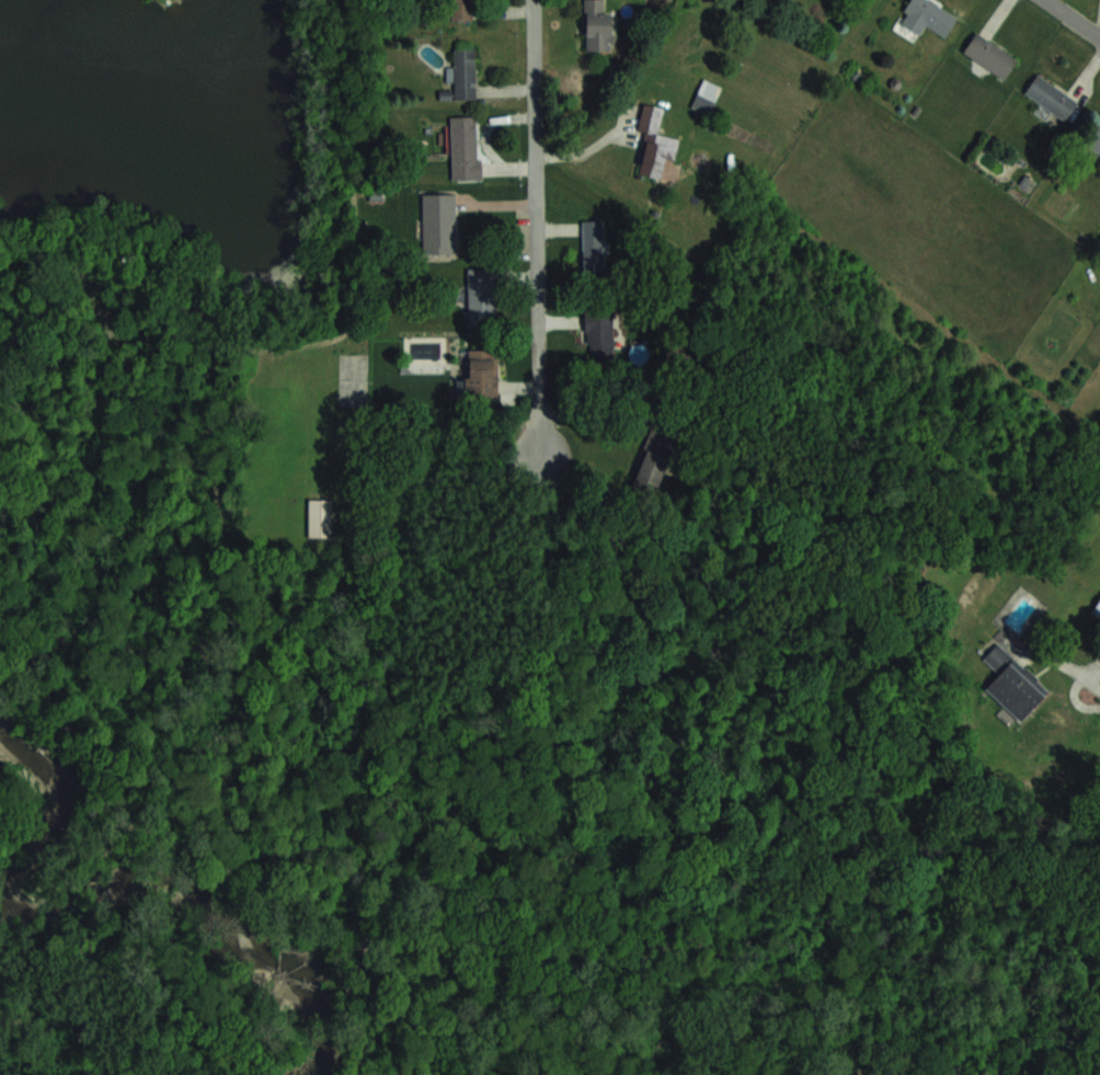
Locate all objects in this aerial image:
building: (461, 10)
building: (927, 15)
road: (1074, 18)
building: (597, 26)
building: (989, 55)
building: (463, 72)
building: (1050, 96)
building: (1093, 136)
building: (654, 144)
building: (463, 148)
building: (437, 222)
road: (537, 230)
building: (592, 244)
building: (481, 297)
building: (599, 334)
building: (481, 373)
road: (606, 415)
building: (653, 462)
road: (1065, 667)
building: (1012, 684)
river: (116, 876)

